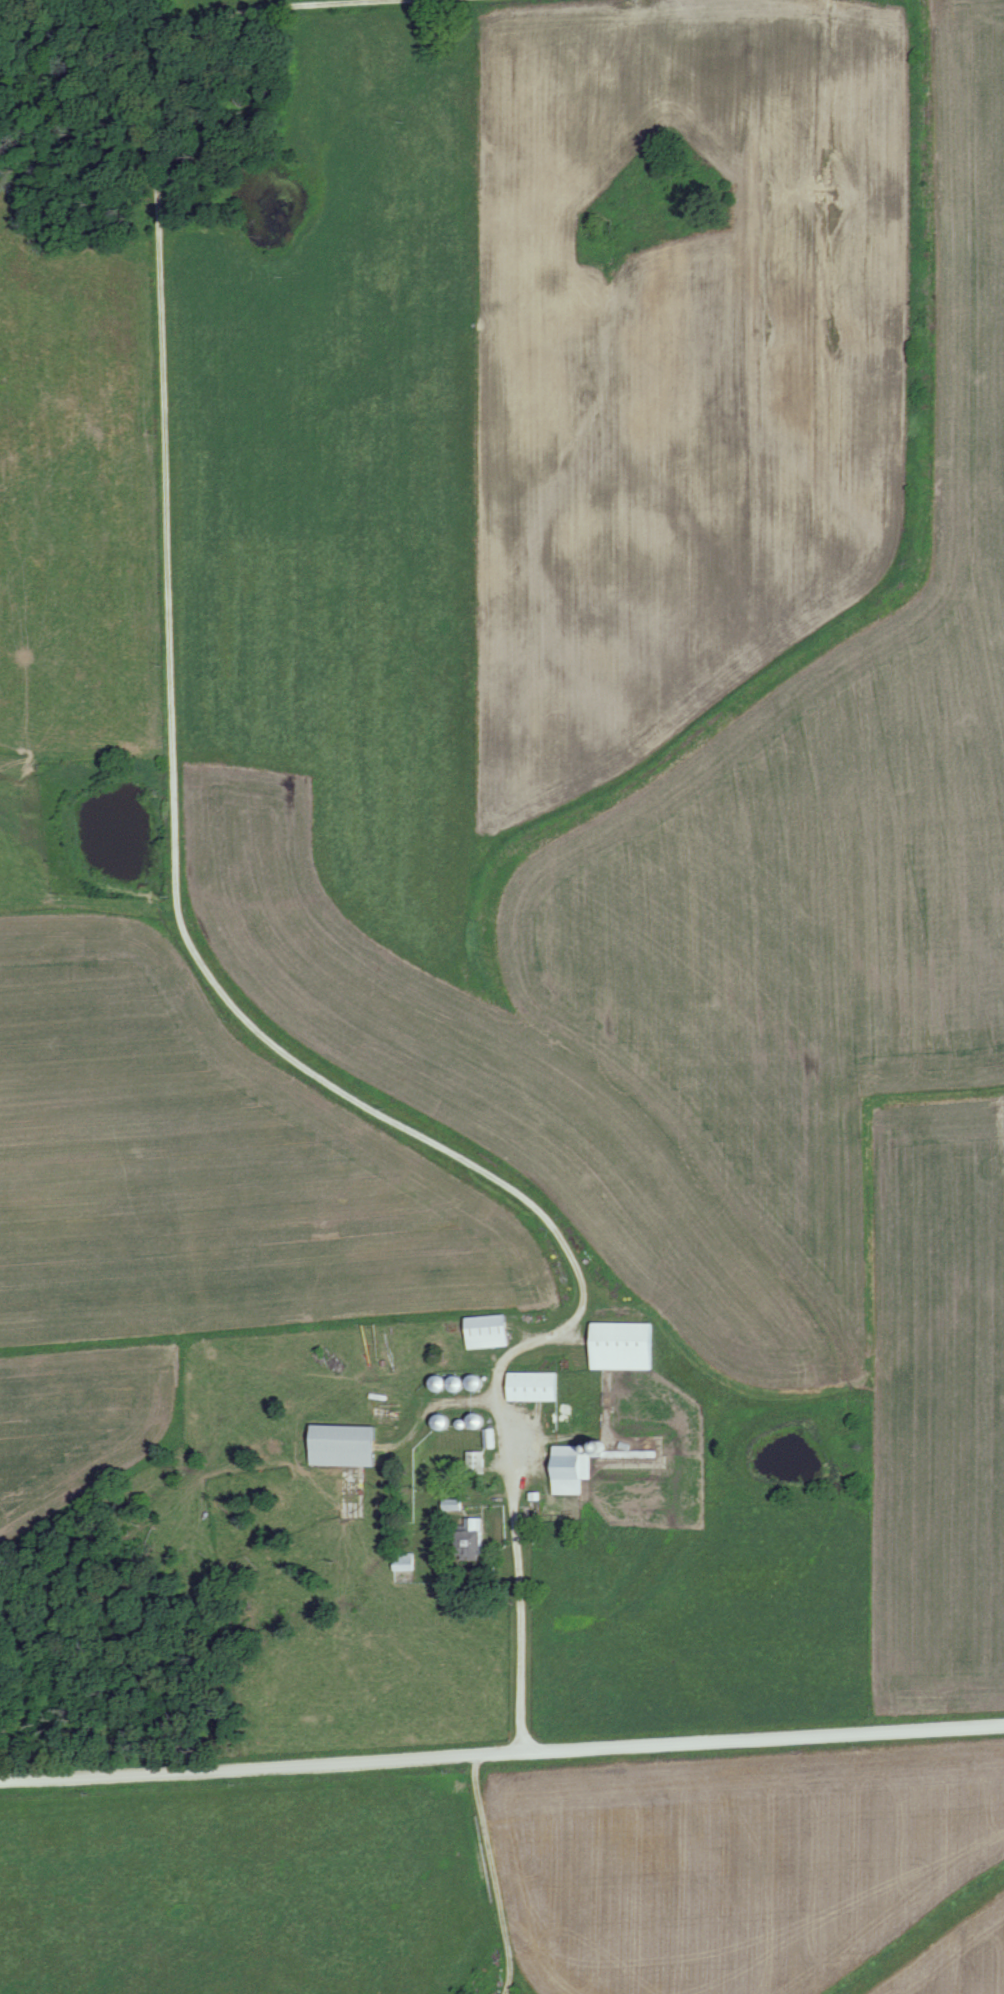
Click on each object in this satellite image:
road: (179, 891)
building: (492, 1333)
building: (627, 1348)
building: (536, 1388)
building: (390, 1408)
building: (346, 1447)
building: (571, 1471)
building: (475, 1538)
road: (899, 1555)
road: (501, 1751)
road: (493, 1873)

